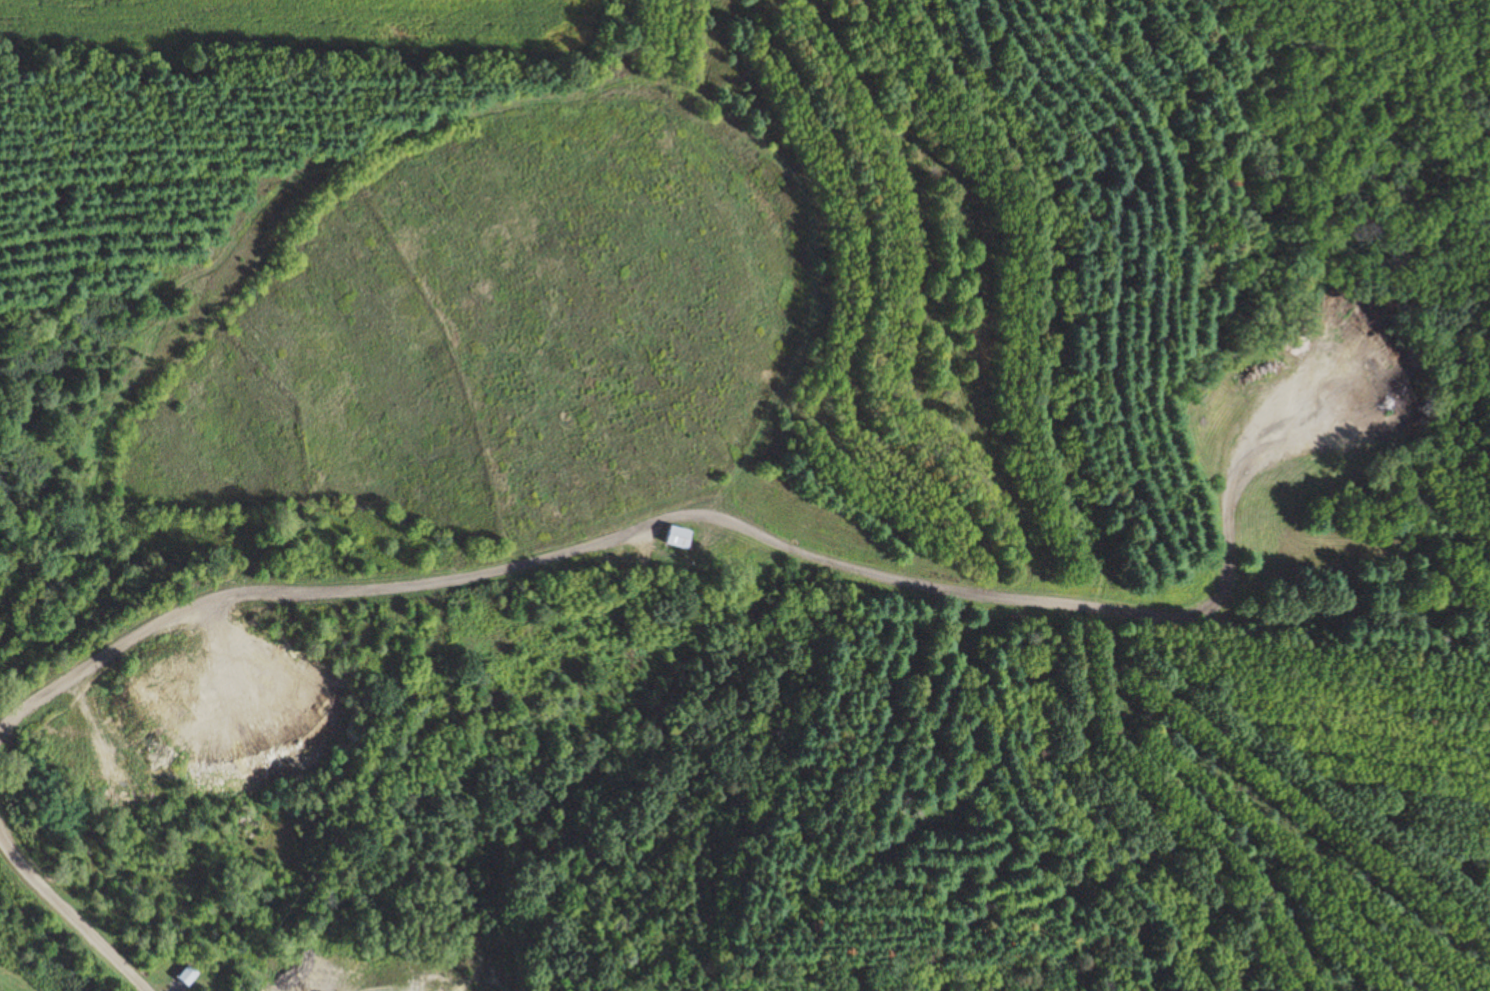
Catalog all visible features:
road: (1472, 106)
building: (681, 538)
road: (1224, 560)
road: (523, 562)
road: (817, 601)
road: (1141, 684)
road: (1007, 705)
road: (69, 917)
building: (190, 975)
road: (1005, 981)

